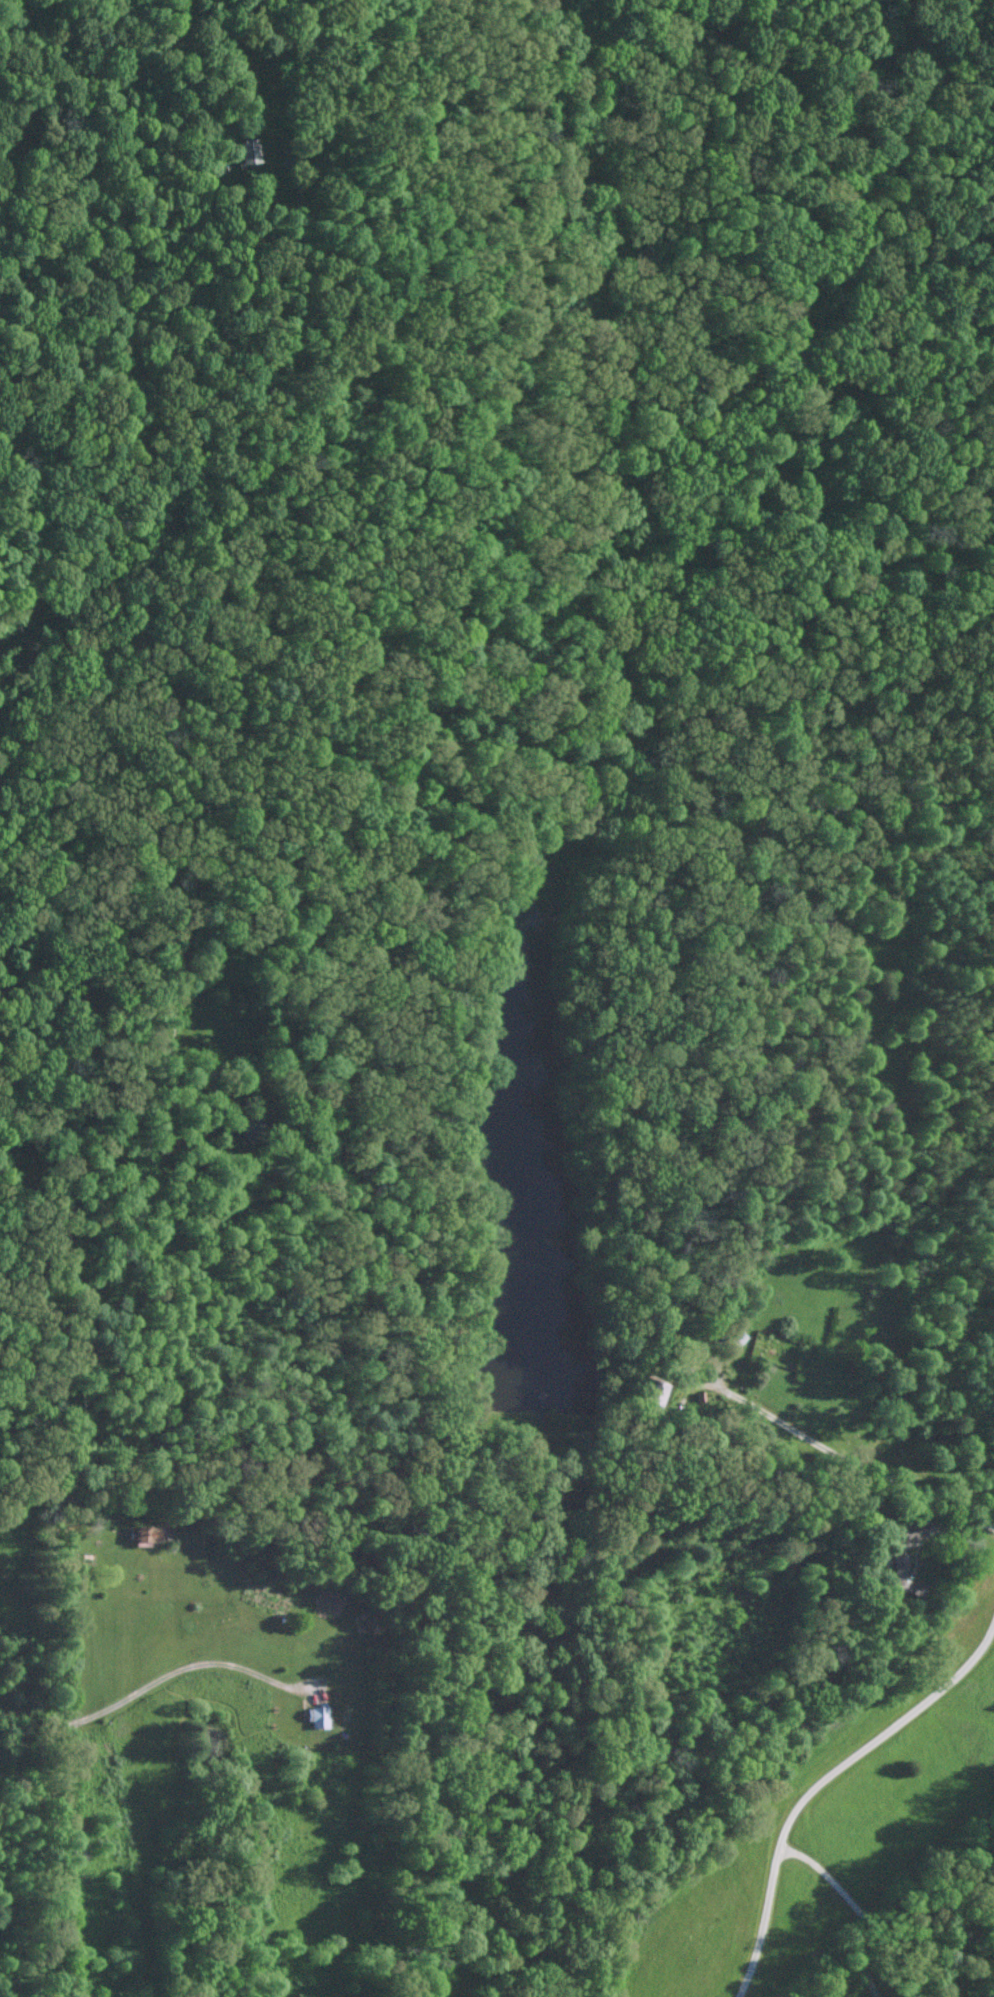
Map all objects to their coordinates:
building: (244, 150)
road: (182, 997)
building: (144, 1534)
building: (903, 1576)
road: (174, 1670)
building: (315, 1715)
road: (823, 1788)

